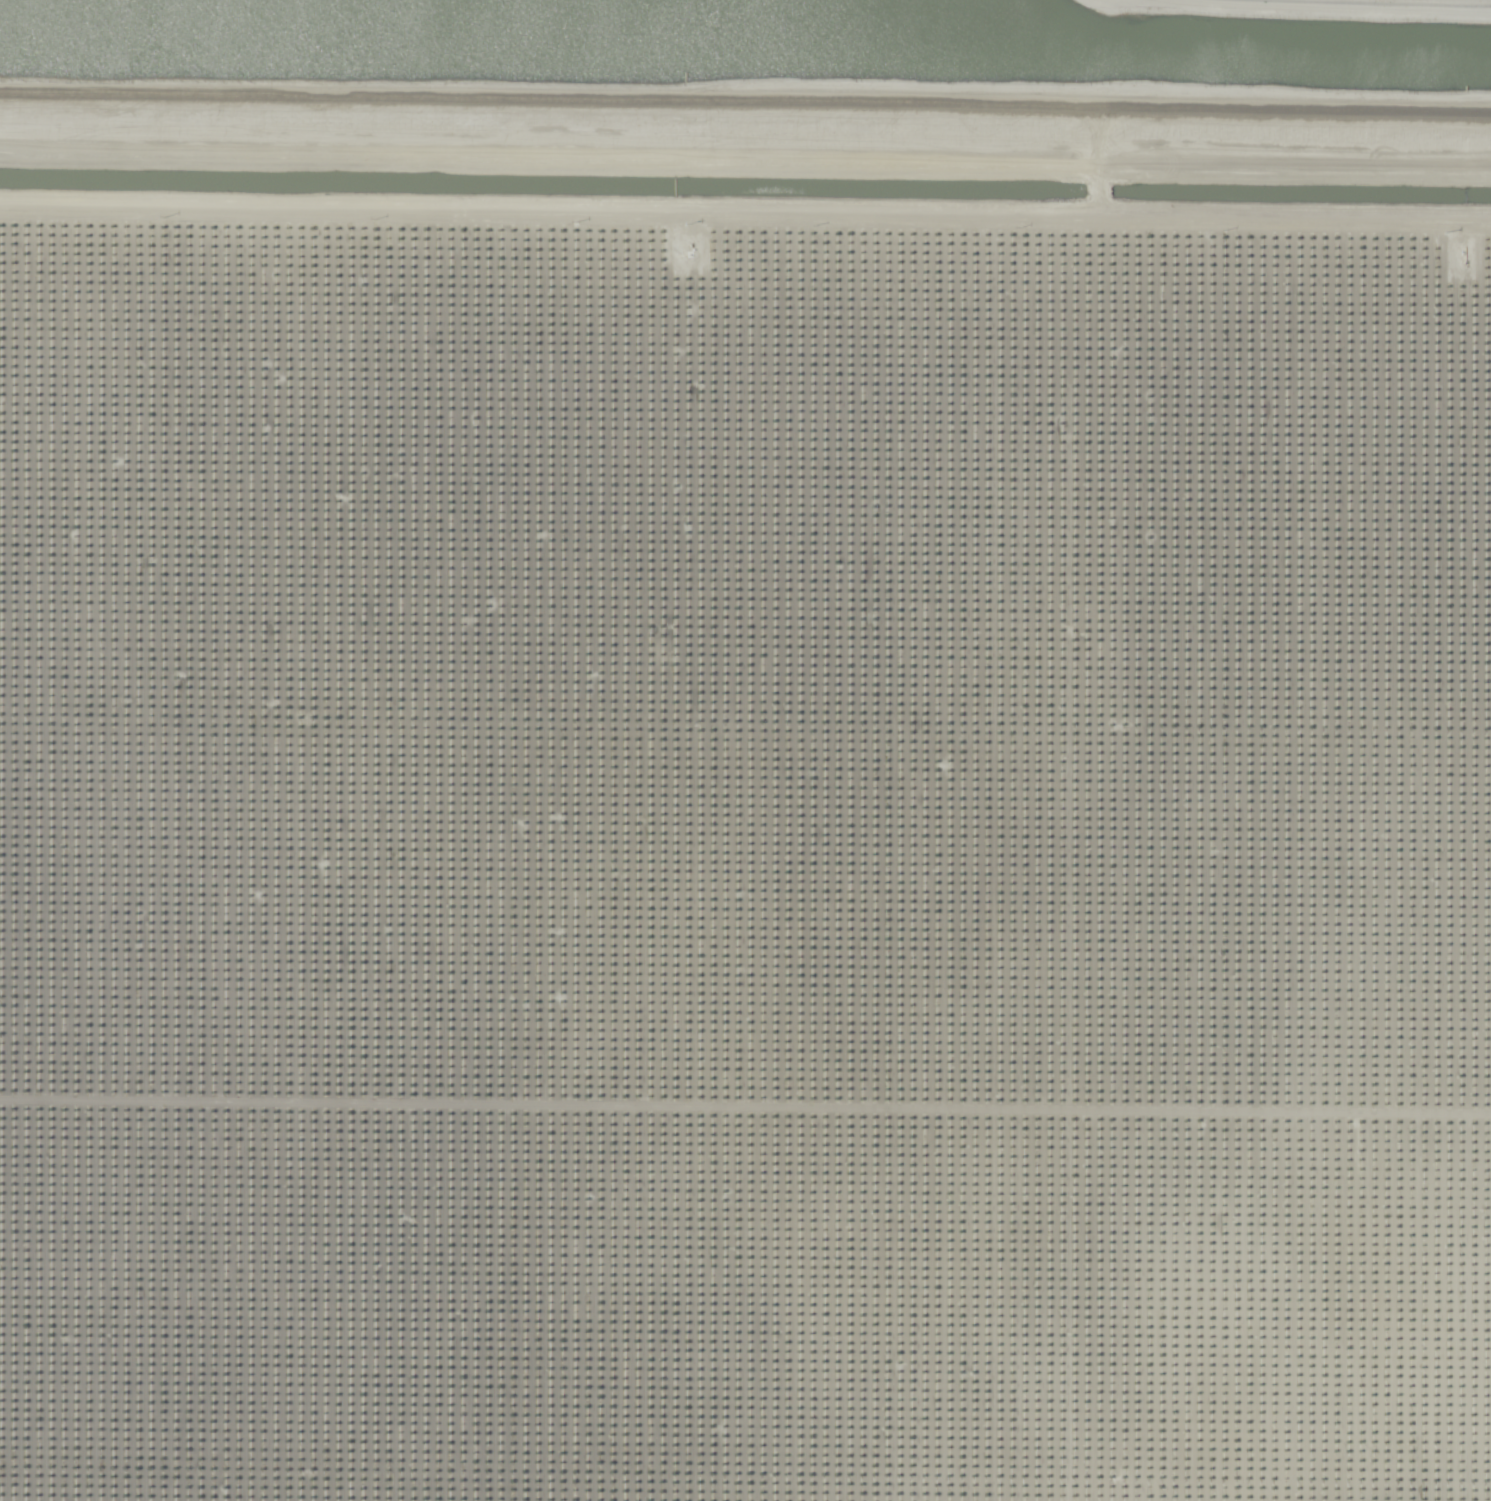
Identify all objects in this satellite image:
road: (745, 101)
road: (745, 213)
crop: (755, 781)

